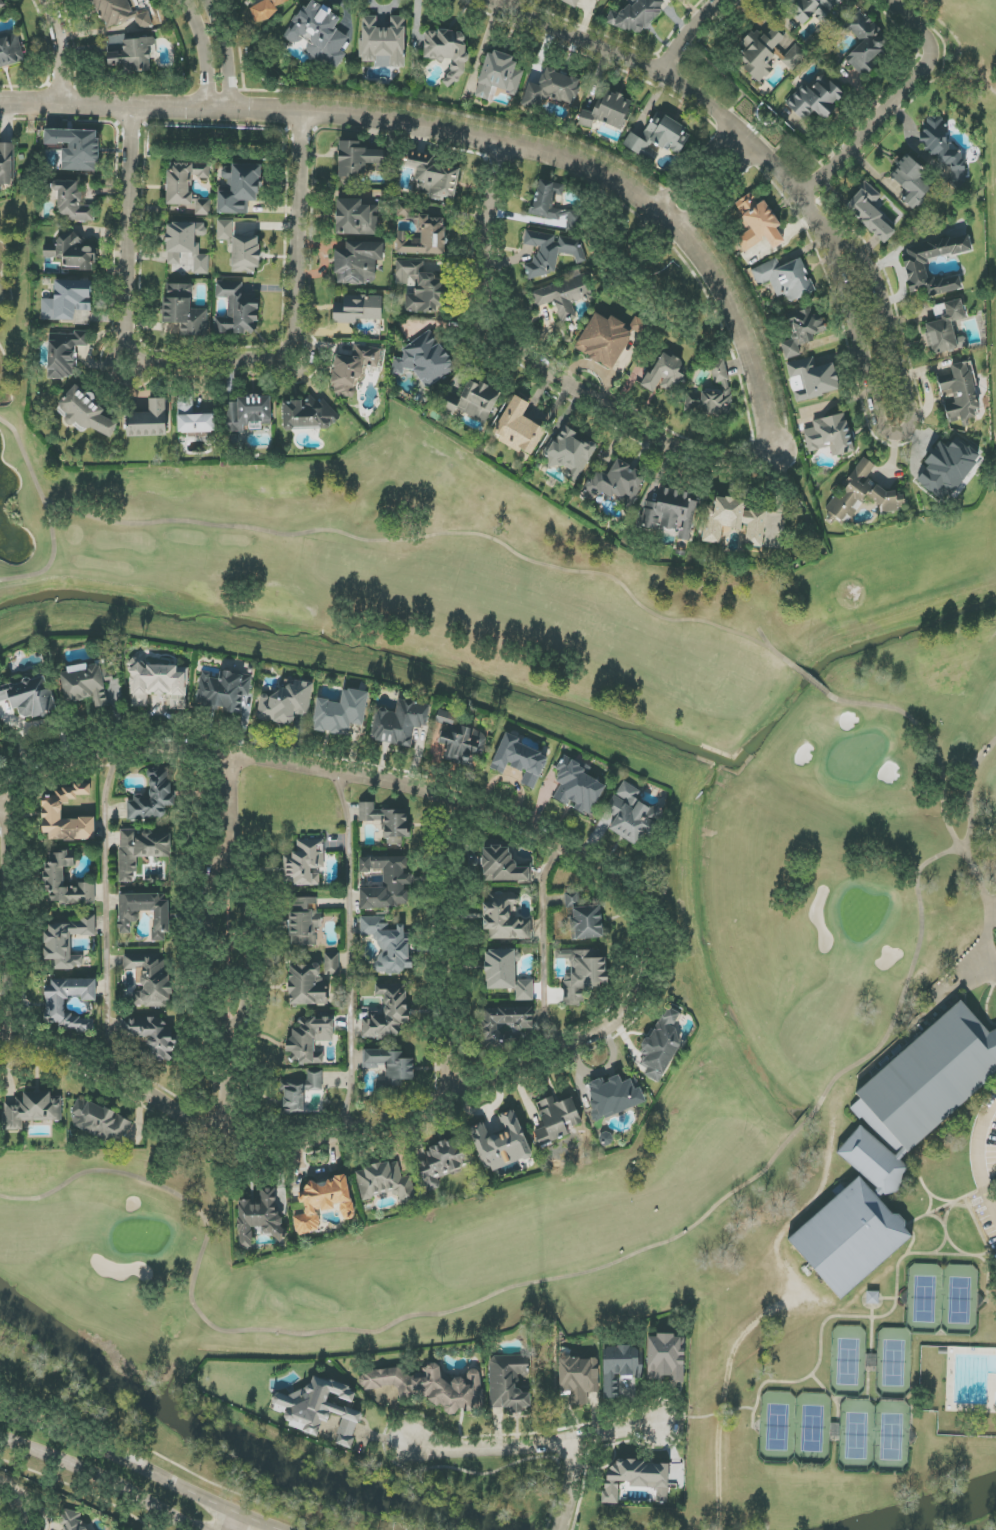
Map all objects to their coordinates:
road: (504, 2)
building: (571, 2)
building: (2, 5)
building: (266, 9)
building: (812, 9)
building: (636, 15)
building: (143, 21)
building: (319, 33)
road: (686, 34)
building: (384, 42)
building: (864, 44)
road: (60, 49)
building: (11, 51)
road: (203, 52)
building: (447, 52)
road: (224, 53)
building: (768, 53)
building: (134, 55)
building: (498, 75)
road: (672, 81)
building: (552, 89)
building: (816, 98)
road: (890, 103)
road: (254, 110)
building: (608, 111)
building: (658, 139)
building: (76, 148)
building: (944, 149)
building: (357, 160)
road: (693, 163)
building: (7, 164)
building: (184, 181)
building: (911, 181)
road: (721, 191)
building: (72, 202)
building: (551, 205)
building: (202, 207)
building: (869, 213)
building: (356, 218)
building: (757, 223)
building: (225, 230)
building: (425, 238)
road: (695, 244)
building: (186, 245)
building: (68, 251)
building: (550, 252)
building: (245, 254)
building: (358, 262)
building: (915, 267)
building: (785, 279)
building: (420, 287)
building: (562, 297)
building: (67, 300)
building: (357, 309)
building: (184, 310)
building: (237, 310)
building: (946, 329)
building: (801, 331)
building: (606, 340)
building: (64, 353)
building: (425, 359)
road: (207, 365)
building: (353, 369)
road: (547, 371)
building: (664, 373)
building: (812, 379)
building: (725, 387)
building: (959, 393)
building: (472, 401)
building: (87, 412)
building: (308, 413)
building: (149, 420)
building: (196, 423)
building: (518, 428)
road: (904, 432)
building: (830, 435)
building: (570, 452)
building: (948, 467)
building: (616, 484)
building: (863, 494)
building: (673, 513)
building: (738, 521)
building: (159, 684)
building: (90, 685)
building: (224, 691)
building: (2, 697)
building: (32, 697)
building: (285, 703)
building: (341, 712)
building: (400, 723)
building: (460, 740)
park: (778, 743)
building: (0, 744)
building: (520, 760)
building: (577, 786)
building: (153, 797)
building: (52, 811)
building: (629, 814)
building: (387, 821)
building: (141, 850)
building: (305, 864)
building: (503, 866)
building: (55, 875)
building: (386, 882)
building: (129, 916)
building: (584, 917)
building: (504, 918)
building: (303, 921)
road: (15, 924)
road: (111, 924)
building: (67, 943)
building: (388, 945)
road: (248, 948)
road: (453, 952)
road: (550, 955)
road: (205, 956)
building: (332, 964)
road: (354, 964)
road: (654, 964)
building: (506, 974)
building: (583, 974)
building: (149, 979)
building: (307, 984)
building: (55, 1008)
building: (388, 1012)
building: (503, 1026)
building: (152, 1036)
building: (309, 1039)
building: (661, 1045)
building: (390, 1067)
building: (301, 1092)
building: (614, 1096)
building: (33, 1110)
building: (557, 1120)
building: (100, 1122)
building: (501, 1143)
building: (894, 1145)
road: (983, 1158)
building: (441, 1163)
building: (385, 1182)
building: (324, 1203)
road: (993, 1209)
building: (262, 1216)
road: (993, 1216)
park: (945, 1300)
building: (666, 1357)
park: (849, 1362)
park: (895, 1365)
building: (621, 1367)
building: (579, 1378)
building: (508, 1383)
building: (430, 1386)
road: (722, 1404)
building: (319, 1409)
park: (795, 1427)
park: (876, 1433)
road: (534, 1446)
road: (141, 1470)
building: (636, 1478)
road: (102, 1484)
road: (570, 1486)
road: (7, 1489)
road: (26, 1509)
building: (71, 1520)
road: (237, 1523)
road: (244, 1523)

